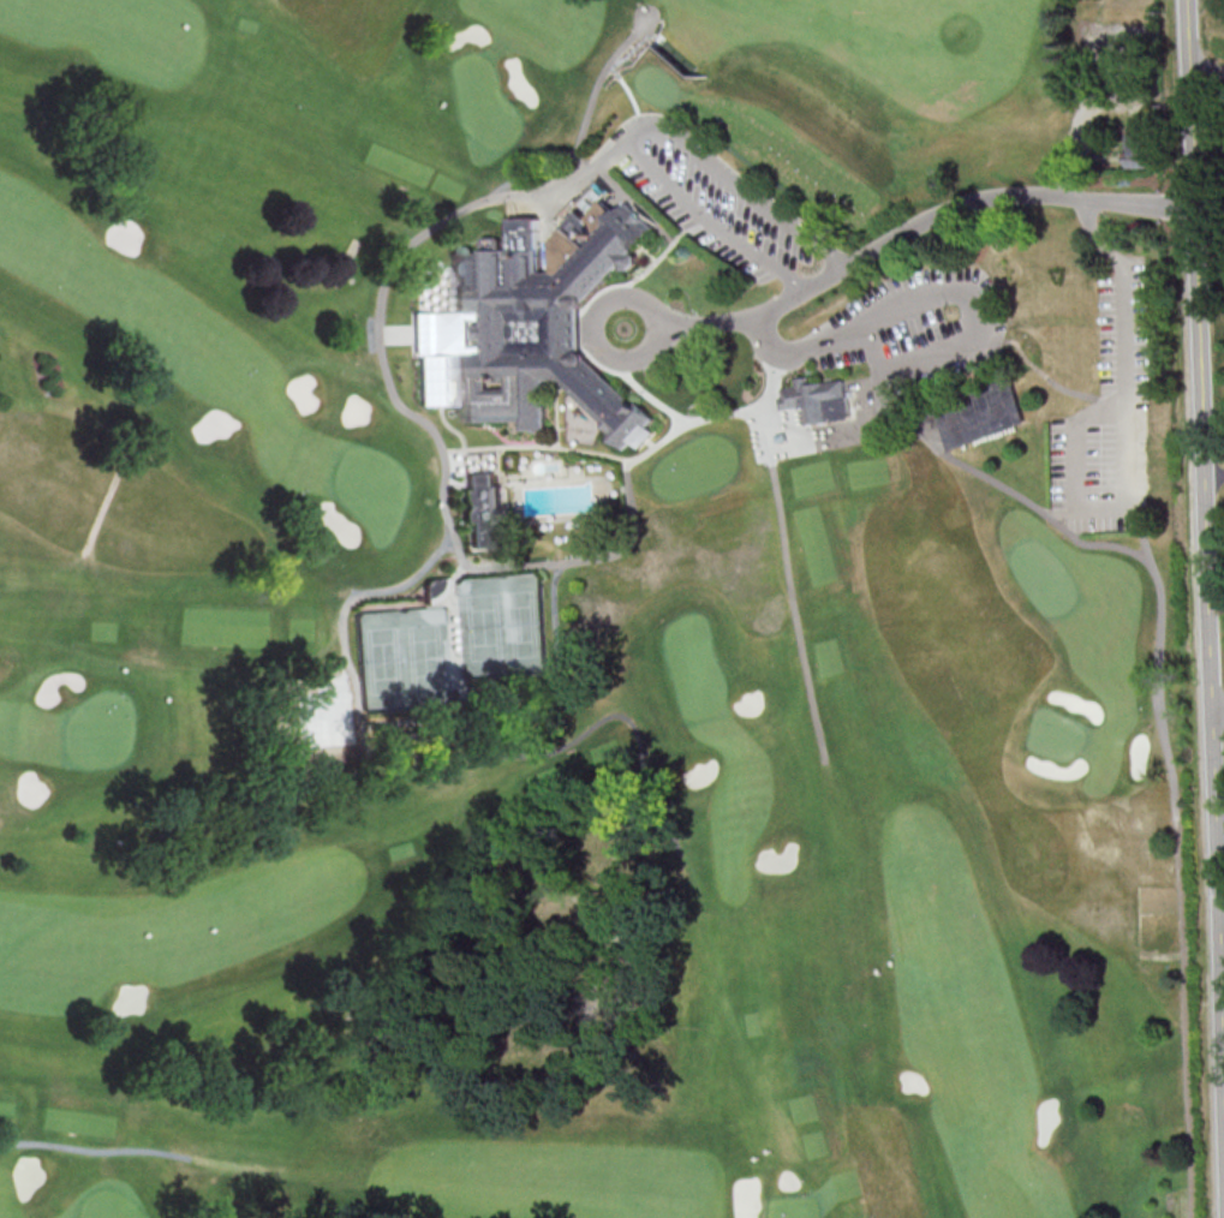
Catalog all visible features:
road: (1187, 38)
road: (1206, 74)
road: (1189, 143)
building: (1134, 145)
road: (670, 148)
road: (578, 154)
parking lot: (705, 197)
road: (707, 219)
road: (903, 234)
road: (664, 252)
road: (647, 256)
road: (446, 285)
road: (966, 292)
road: (459, 317)
building: (547, 324)
road: (585, 324)
parking lot: (918, 330)
road: (405, 335)
road: (460, 351)
road: (1044, 377)
road: (436, 383)
road: (450, 392)
road: (651, 395)
building: (819, 401)
road: (556, 414)
building: (983, 414)
parking lot: (1105, 418)
road: (801, 424)
building: (781, 440)
road: (652, 444)
road: (535, 447)
road: (1126, 449)
road: (500, 468)
road: (977, 472)
road: (452, 486)
road: (102, 503)
building: (484, 511)
road: (443, 520)
road: (1109, 545)
road: (503, 547)
road: (472, 551)
road: (360, 597)
road: (790, 597)
park: (595, 611)
park: (502, 626)
road: (449, 629)
road: (1208, 639)
road: (561, 655)
park: (401, 661)
road: (1218, 714)
road: (621, 716)
road: (1177, 858)
road: (1223, 924)
road: (1223, 959)
road: (97, 1151)

